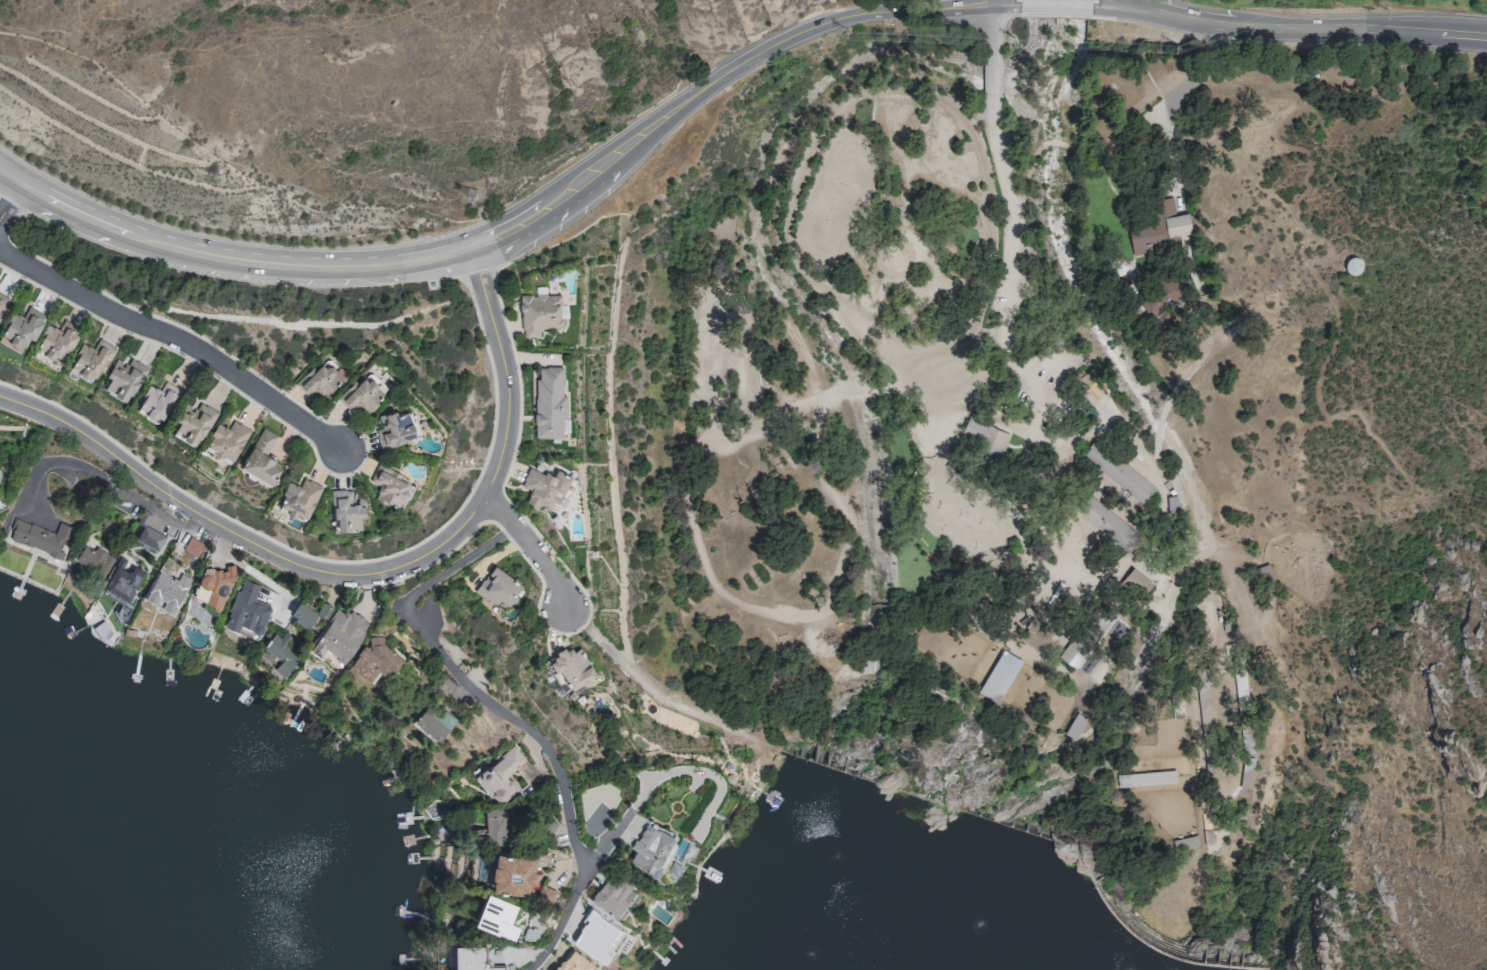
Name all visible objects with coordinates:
road: (1055, 1)
road: (977, 2)
road: (1136, 4)
road: (1114, 5)
road: (840, 19)
road: (1311, 21)
road: (993, 31)
road: (1210, 32)
road: (1388, 38)
road: (993, 78)
road: (578, 174)
power tower: (474, 196)
road: (14, 197)
building: (1161, 227)
road: (1008, 249)
road: (225, 251)
road: (358, 274)
building: (1161, 297)
building: (2, 301)
building: (539, 312)
building: (22, 325)
road: (179, 338)
building: (58, 339)
building: (93, 357)
building: (125, 376)
building: (320, 377)
building: (363, 391)
building: (158, 398)
building: (549, 402)
building: (194, 419)
building: (394, 426)
building: (984, 435)
building: (227, 438)
building: (261, 456)
road: (49, 464)
building: (1118, 471)
building: (390, 482)
building: (544, 487)
building: (299, 495)
building: (1173, 504)
building: (347, 507)
road: (150, 508)
building: (1106, 522)
building: (41, 538)
building: (149, 538)
building: (193, 545)
road: (538, 551)
building: (94, 560)
road: (369, 575)
building: (214, 581)
building: (1136, 582)
building: (121, 583)
building: (498, 587)
building: (167, 589)
building: (322, 608)
building: (246, 611)
building: (303, 613)
building: (341, 631)
building: (281, 651)
building: (374, 655)
building: (572, 667)
building: (999, 676)
building: (1240, 685)
road: (508, 712)
building: (430, 721)
dam: (826, 765)
building: (501, 768)
building: (1246, 773)
building: (1146, 779)
road: (649, 794)
dam: (926, 798)
building: (492, 823)
dam: (1007, 824)
building: (652, 845)
building: (514, 865)
building: (613, 886)
building: (497, 908)
road: (557, 919)
dam: (1152, 946)
building: (570, 957)

